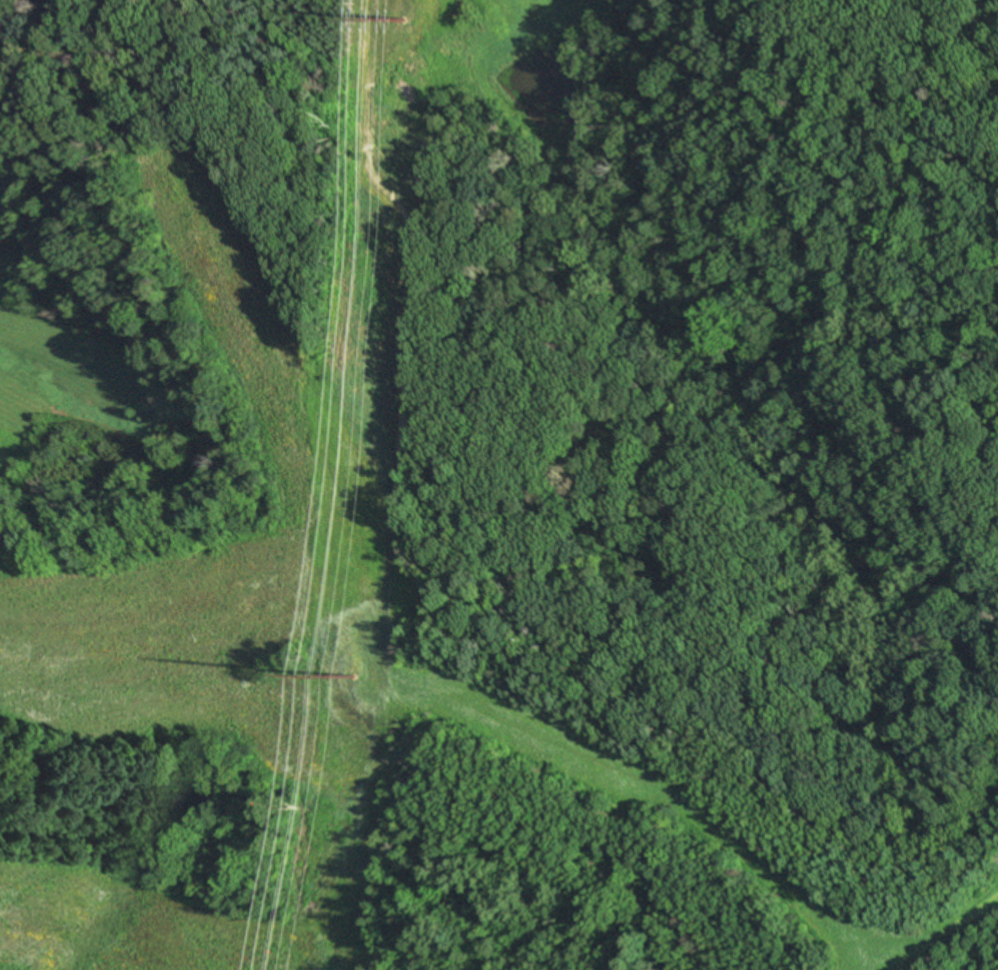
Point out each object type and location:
power tower: (407, 21)
power tower: (350, 677)

